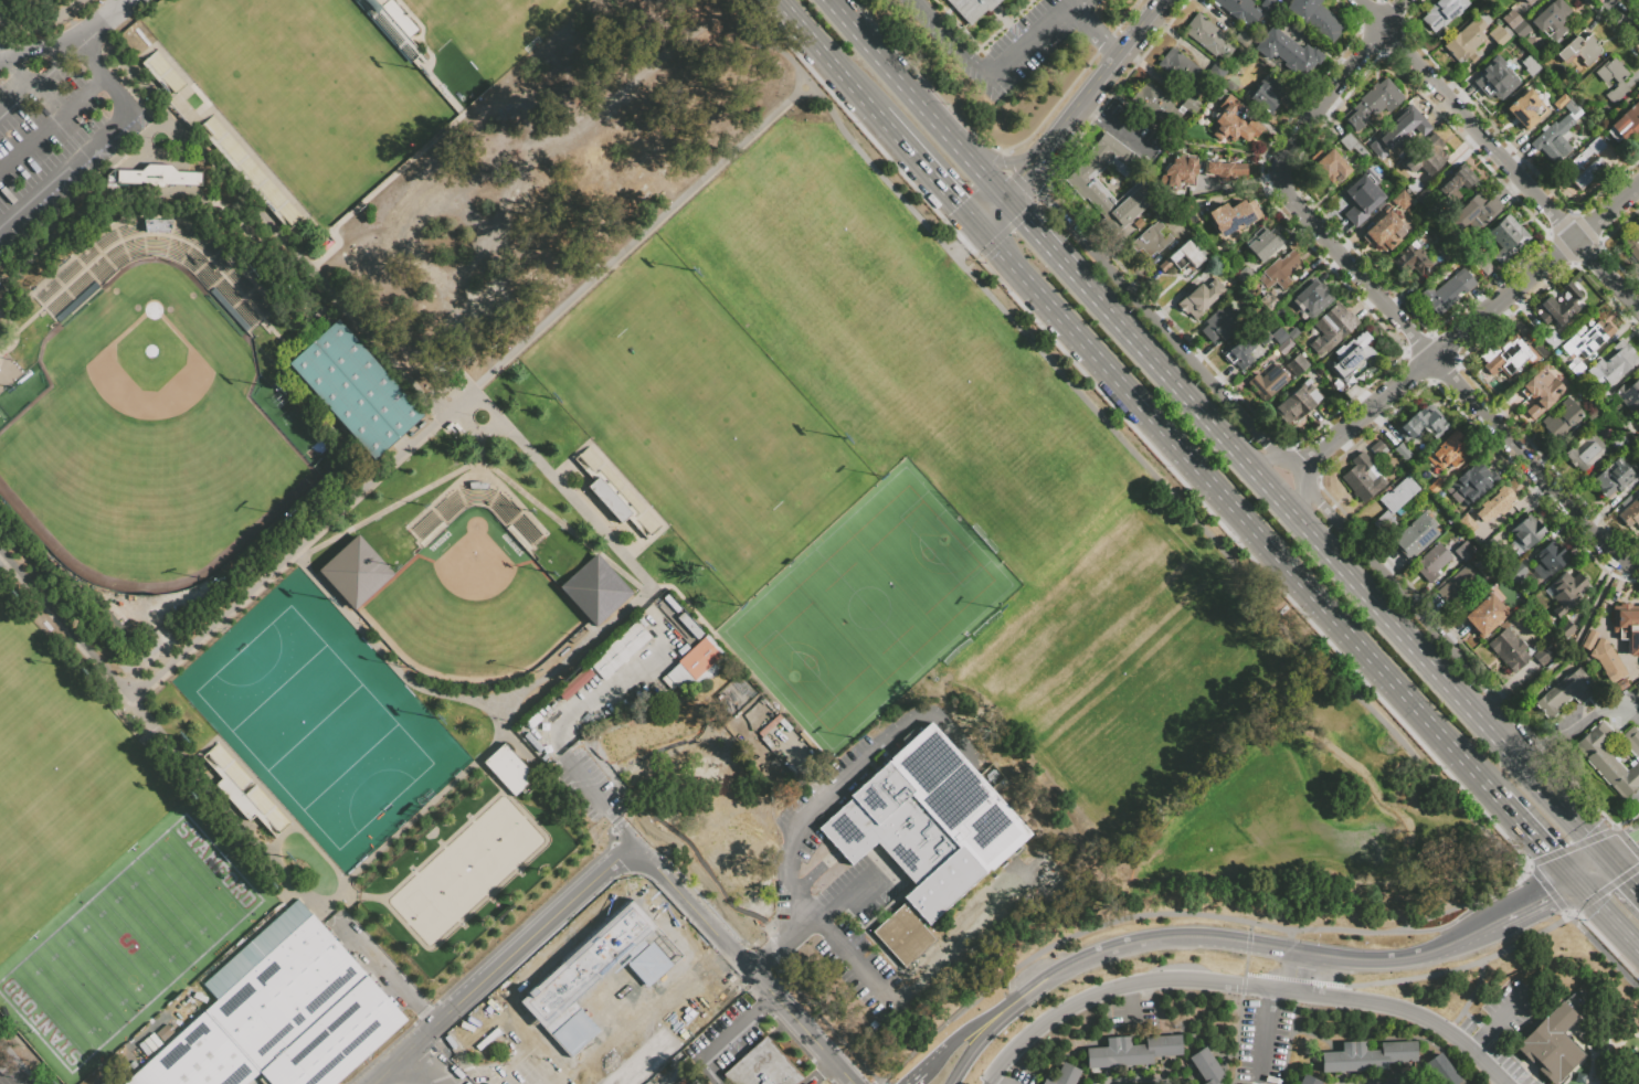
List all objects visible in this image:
road: (1070, 0)
building: (1526, 1)
building: (1269, 7)
building: (972, 9)
building: (1240, 11)
building: (1441, 12)
road: (1393, 13)
road: (1622, 17)
building: (1315, 18)
building: (1281, 19)
building: (1551, 19)
park: (515, 20)
road: (103, 23)
building: (1515, 23)
road: (1093, 26)
building: (391, 28)
building: (1500, 35)
building: (1208, 36)
building: (1467, 38)
road: (953, 39)
road: (1030, 40)
building: (1579, 50)
road: (38, 51)
building: (1287, 52)
road: (825, 57)
building: (1472, 57)
road: (1354, 64)
building: (1530, 65)
building: (1182, 70)
building: (1216, 71)
road: (1098, 75)
road: (895, 76)
road: (39, 79)
road: (104, 79)
building: (1497, 79)
building: (1618, 82)
park: (302, 85)
building: (1266, 94)
stadium: (295, 96)
building: (1559, 102)
building: (1373, 103)
building: (1162, 105)
building: (1571, 107)
building: (1525, 109)
building: (1626, 121)
building: (1233, 123)
road: (52, 125)
road: (1112, 126)
road: (1301, 130)
building: (1408, 131)
parking lot: (51, 138)
building: (1553, 138)
road: (1175, 141)
building: (1373, 141)
building: (1351, 144)
road: (1499, 155)
building: (1427, 156)
road: (1035, 157)
road: (996, 160)
building: (1584, 164)
building: (1330, 166)
road: (1027, 167)
road: (926, 170)
building: (1182, 170)
building: (1224, 170)
road: (65, 171)
road: (983, 174)
traffic signals: (1021, 176)
building: (159, 181)
road: (1014, 183)
road: (1034, 183)
building: (1456, 183)
building: (1415, 187)
building: (1092, 190)
building: (1423, 196)
building: (1362, 199)
building: (1402, 200)
road: (255, 205)
traffic signals: (958, 206)
road: (990, 211)
road: (1302, 212)
building: (1476, 212)
building: (1234, 216)
traffic signals: (1025, 219)
building: (1169, 219)
building: (1138, 224)
building: (1420, 224)
building: (1385, 230)
road: (1036, 232)
road: (962, 237)
building: (1506, 237)
building: (1150, 240)
building: (1265, 244)
building: (1632, 244)
building: (1446, 251)
building: (1182, 257)
building: (1411, 258)
building: (1484, 266)
building: (1279, 270)
building: (1246, 276)
building: (75, 286)
building: (1, 289)
building: (1448, 291)
building: (1311, 298)
building: (1198, 300)
building: (1268, 301)
building: (1559, 306)
road: (1387, 307)
road: (1155, 319)
building: (1220, 323)
building: (1332, 328)
road: (1467, 328)
building: (1292, 332)
building: (1279, 334)
building: (1551, 340)
building: (1587, 340)
building: (1247, 343)
building: (1284, 346)
building: (1541, 349)
building: (1352, 354)
building: (1509, 357)
building: (1614, 363)
building: (1297, 364)
building: (1574, 366)
building: (441, 371)
building: (1267, 382)
road: (476, 389)
building: (358, 391)
building: (1541, 392)
building: (1629, 394)
building: (1297, 402)
stadium: (150, 406)
building: (1595, 416)
park: (698, 417)
building: (1561, 419)
building: (1624, 423)
stadium: (690, 424)
building: (1425, 424)
building: (1603, 424)
building: (1638, 426)
park: (150, 428)
road: (475, 429)
building: (1618, 440)
road: (1124, 442)
building: (1378, 447)
road: (482, 448)
building: (1402, 451)
building: (1447, 451)
building: (1585, 451)
road: (1185, 455)
road: (1526, 461)
road: (1269, 463)
building: (1389, 465)
building: (1638, 467)
road: (1297, 470)
building: (1363, 477)
building: (1612, 477)
building: (1473, 482)
building: (1435, 486)
park: (1007, 487)
building: (615, 493)
road: (1277, 493)
road: (1298, 495)
building: (1625, 500)
building: (1394, 502)
building: (1494, 503)
building: (1410, 509)
building: (1630, 513)
building: (434, 522)
building: (1468, 523)
building: (1527, 531)
building: (1415, 535)
road: (592, 548)
building: (1491, 550)
building: (1464, 551)
road: (3, 554)
building: (1548, 560)
road: (3, 561)
building: (1431, 562)
road: (1632, 563)
building: (1515, 572)
building: (1459, 585)
building: (1565, 592)
stadium: (473, 594)
road: (1405, 597)
building: (672, 603)
park: (473, 605)
park: (868, 607)
building: (1485, 614)
building: (690, 626)
building: (1627, 626)
building: (115, 629)
road: (70, 630)
building: (1567, 631)
building: (1589, 639)
road: (1578, 641)
building: (620, 649)
building: (1515, 650)
building: (1607, 660)
building: (696, 666)
building: (574, 683)
building: (1620, 683)
building: (1567, 693)
road: (589, 694)
road: (473, 701)
road: (1485, 705)
road: (1598, 712)
building: (533, 722)
park: (310, 726)
building: (649, 731)
road: (1442, 734)
road: (1548, 754)
building: (1611, 757)
park: (62, 763)
building: (508, 768)
road: (1534, 776)
building: (242, 789)
road: (835, 793)
road: (606, 801)
road: (413, 818)
building: (929, 826)
park: (507, 831)
road: (1531, 832)
traffic signals: (1633, 842)
road: (1596, 844)
road: (1624, 848)
traffic signals: (1548, 851)
building: (734, 855)
park: (478, 857)
road: (654, 859)
stadium: (462, 868)
road: (279, 869)
road: (1592, 869)
road: (1622, 873)
road: (806, 879)
traffic signals: (1628, 879)
park: (22, 881)
park: (451, 883)
road: (1545, 885)
road: (1563, 885)
road: (675, 890)
traffic signals: (1547, 895)
road: (847, 896)
park: (422, 910)
road: (1515, 911)
road: (1145, 914)
road: (1606, 914)
road: (1249, 926)
road: (712, 931)
road: (793, 931)
road: (1470, 933)
road: (1172, 937)
building: (906, 938)
road: (1247, 942)
park: (129, 946)
road: (1600, 947)
road: (1287, 953)
road: (1383, 958)
building: (651, 959)
road: (509, 960)
building: (585, 961)
road: (854, 964)
road: (1245, 965)
road: (1461, 968)
road: (1248, 971)
road: (1299, 971)
road: (1268, 975)
road: (1312, 980)
road: (1241, 985)
road: (1270, 989)
road: (1104, 992)
road: (998, 1007)
road: (1132, 1007)
road: (1413, 1012)
parking lot: (1133, 1016)
road: (1498, 1019)
road: (1456, 1020)
building: (284, 1022)
road: (796, 1022)
parking lot: (1503, 1022)
road: (992, 1025)
road: (1482, 1027)
building: (877, 1029)
building: (571, 1030)
road: (1262, 1035)
road: (726, 1038)
parking lot: (1263, 1039)
building: (1550, 1044)
building: (1130, 1051)
building: (1365, 1055)
road: (450, 1059)
building: (643, 1059)
road: (929, 1062)
building: (1206, 1065)
building: (764, 1069)
building: (1441, 1070)
road: (822, 1073)
building: (1064, 1075)
parking lot: (1018, 1077)
road: (1141, 1078)
building: (1308, 1080)
road: (554, 1081)
road: (874, 1081)
road: (880, 1081)
road: (988, 1081)
road: (996, 1081)
road: (1370, 1082)
road: (1266, 1083)

